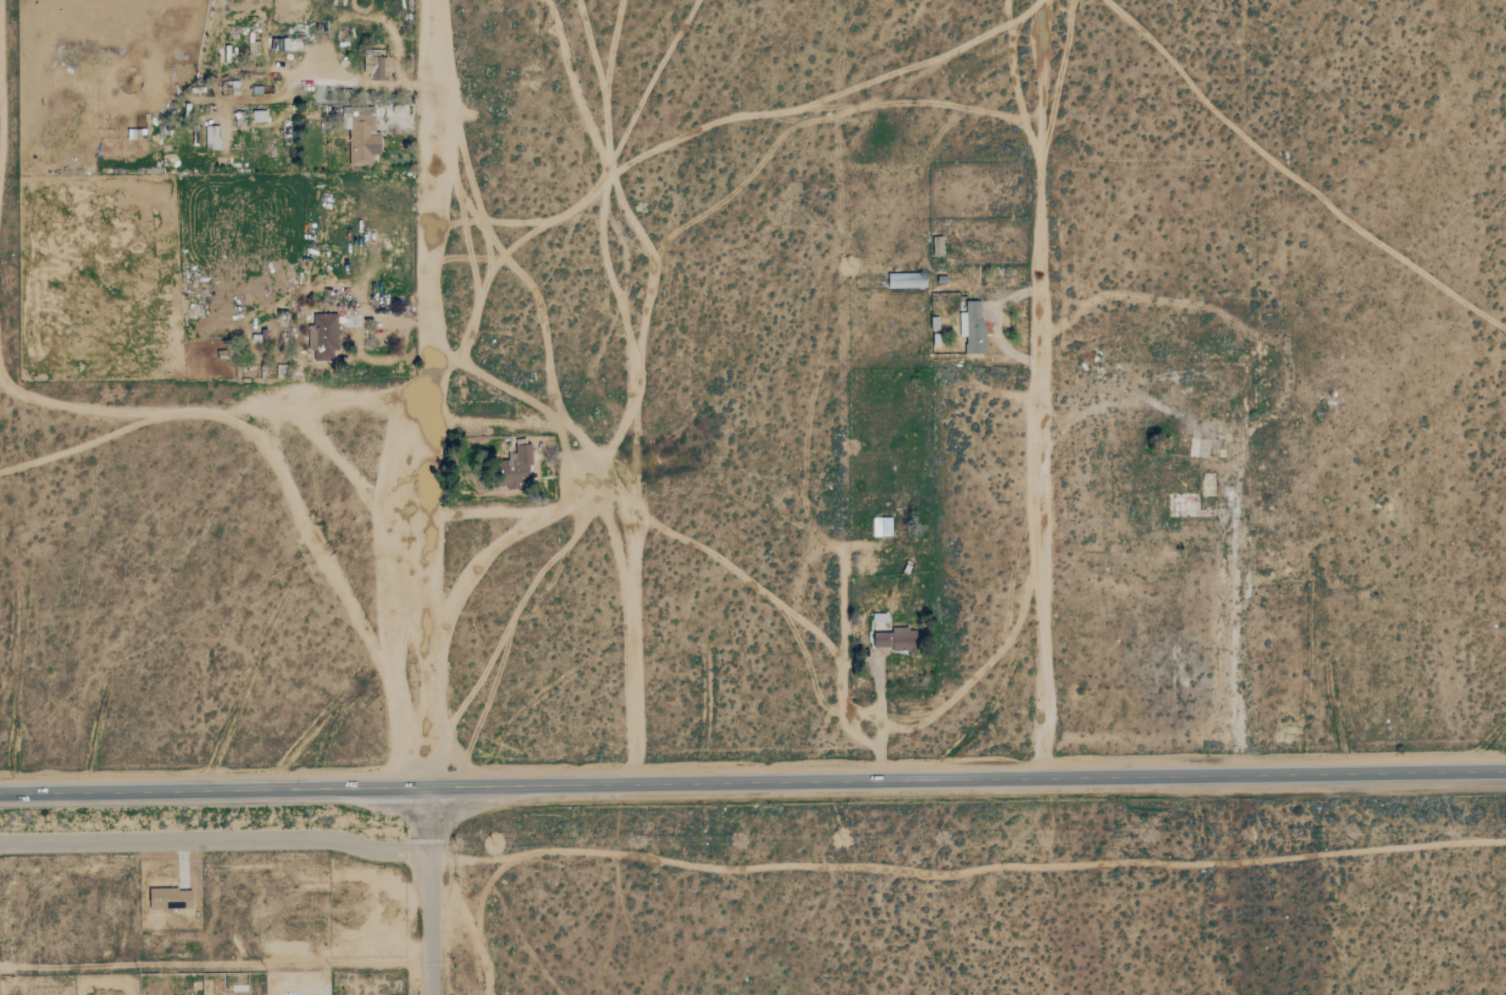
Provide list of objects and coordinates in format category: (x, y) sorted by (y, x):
building: (234, 88)
building: (260, 116)
building: (213, 136)
building: (364, 141)
building: (938, 246)
building: (907, 280)
road: (385, 319)
building: (974, 326)
building: (324, 336)
road: (1042, 376)
road: (426, 377)
road: (597, 466)
building: (519, 468)
building: (882, 526)
building: (880, 618)
building: (897, 640)
road: (841, 674)
road: (1041, 765)
road: (429, 771)
road: (752, 782)
road: (214, 841)
road: (429, 890)
building: (171, 898)

